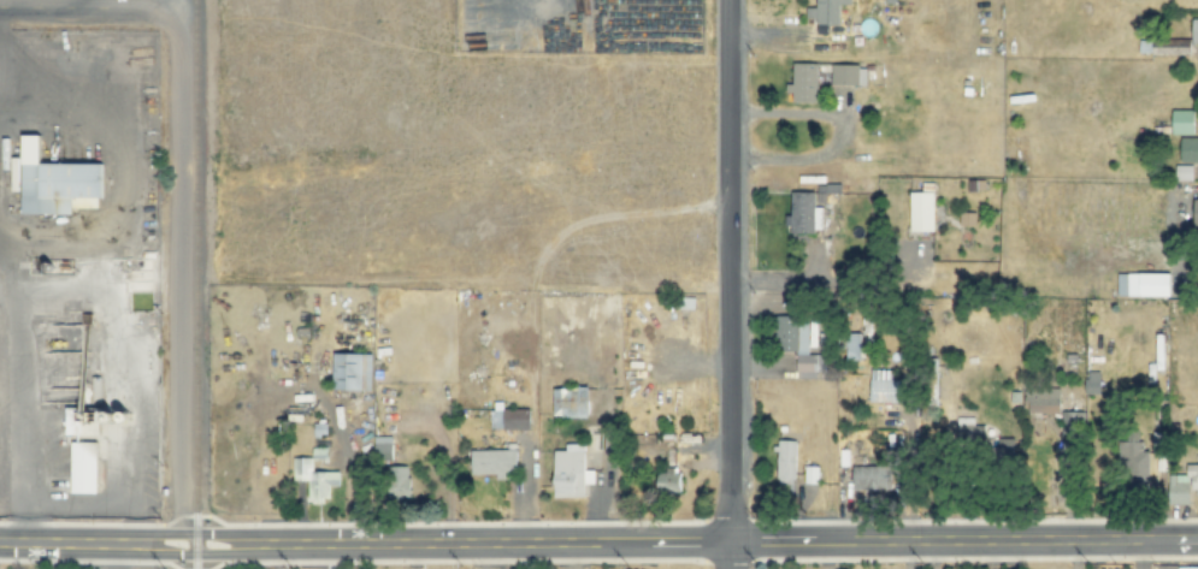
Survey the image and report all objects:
road: (88, 7)
building: (826, 11)
building: (1194, 30)
building: (848, 75)
building: (803, 83)
building: (1182, 123)
building: (1188, 150)
building: (52, 180)
building: (807, 211)
building: (921, 212)
building: (1196, 214)
building: (967, 219)
road: (178, 271)
railway: (195, 284)
road: (731, 284)
building: (1143, 285)
building: (797, 346)
building: (852, 346)
building: (352, 373)
building: (885, 389)
building: (1043, 399)
building: (570, 403)
building: (509, 420)
building: (1072, 423)
building: (78, 428)
building: (382, 449)
building: (786, 462)
building: (494, 463)
building: (1135, 468)
building: (81, 469)
building: (571, 473)
building: (873, 479)
building: (314, 480)
building: (397, 482)
building: (668, 482)
building: (1184, 486)
road: (598, 544)
building: (1187, 567)

